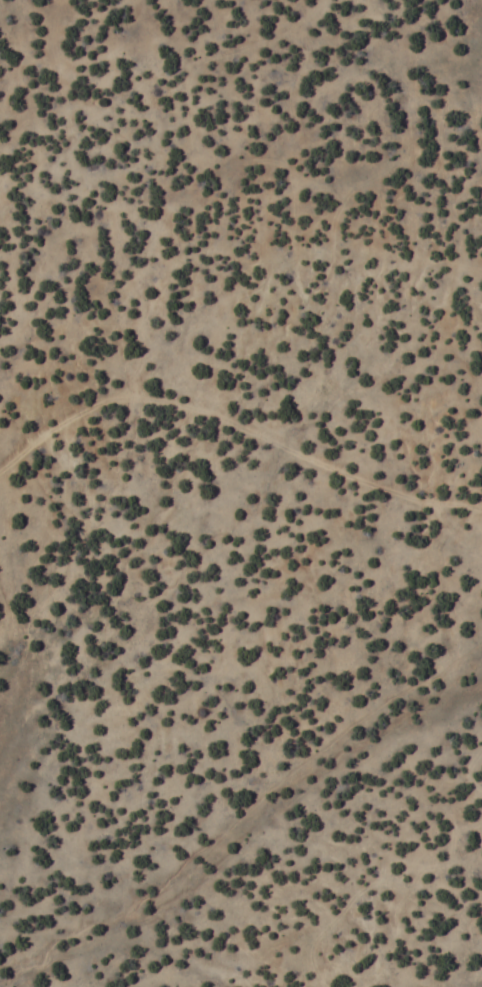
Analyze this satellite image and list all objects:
road: (237, 443)

